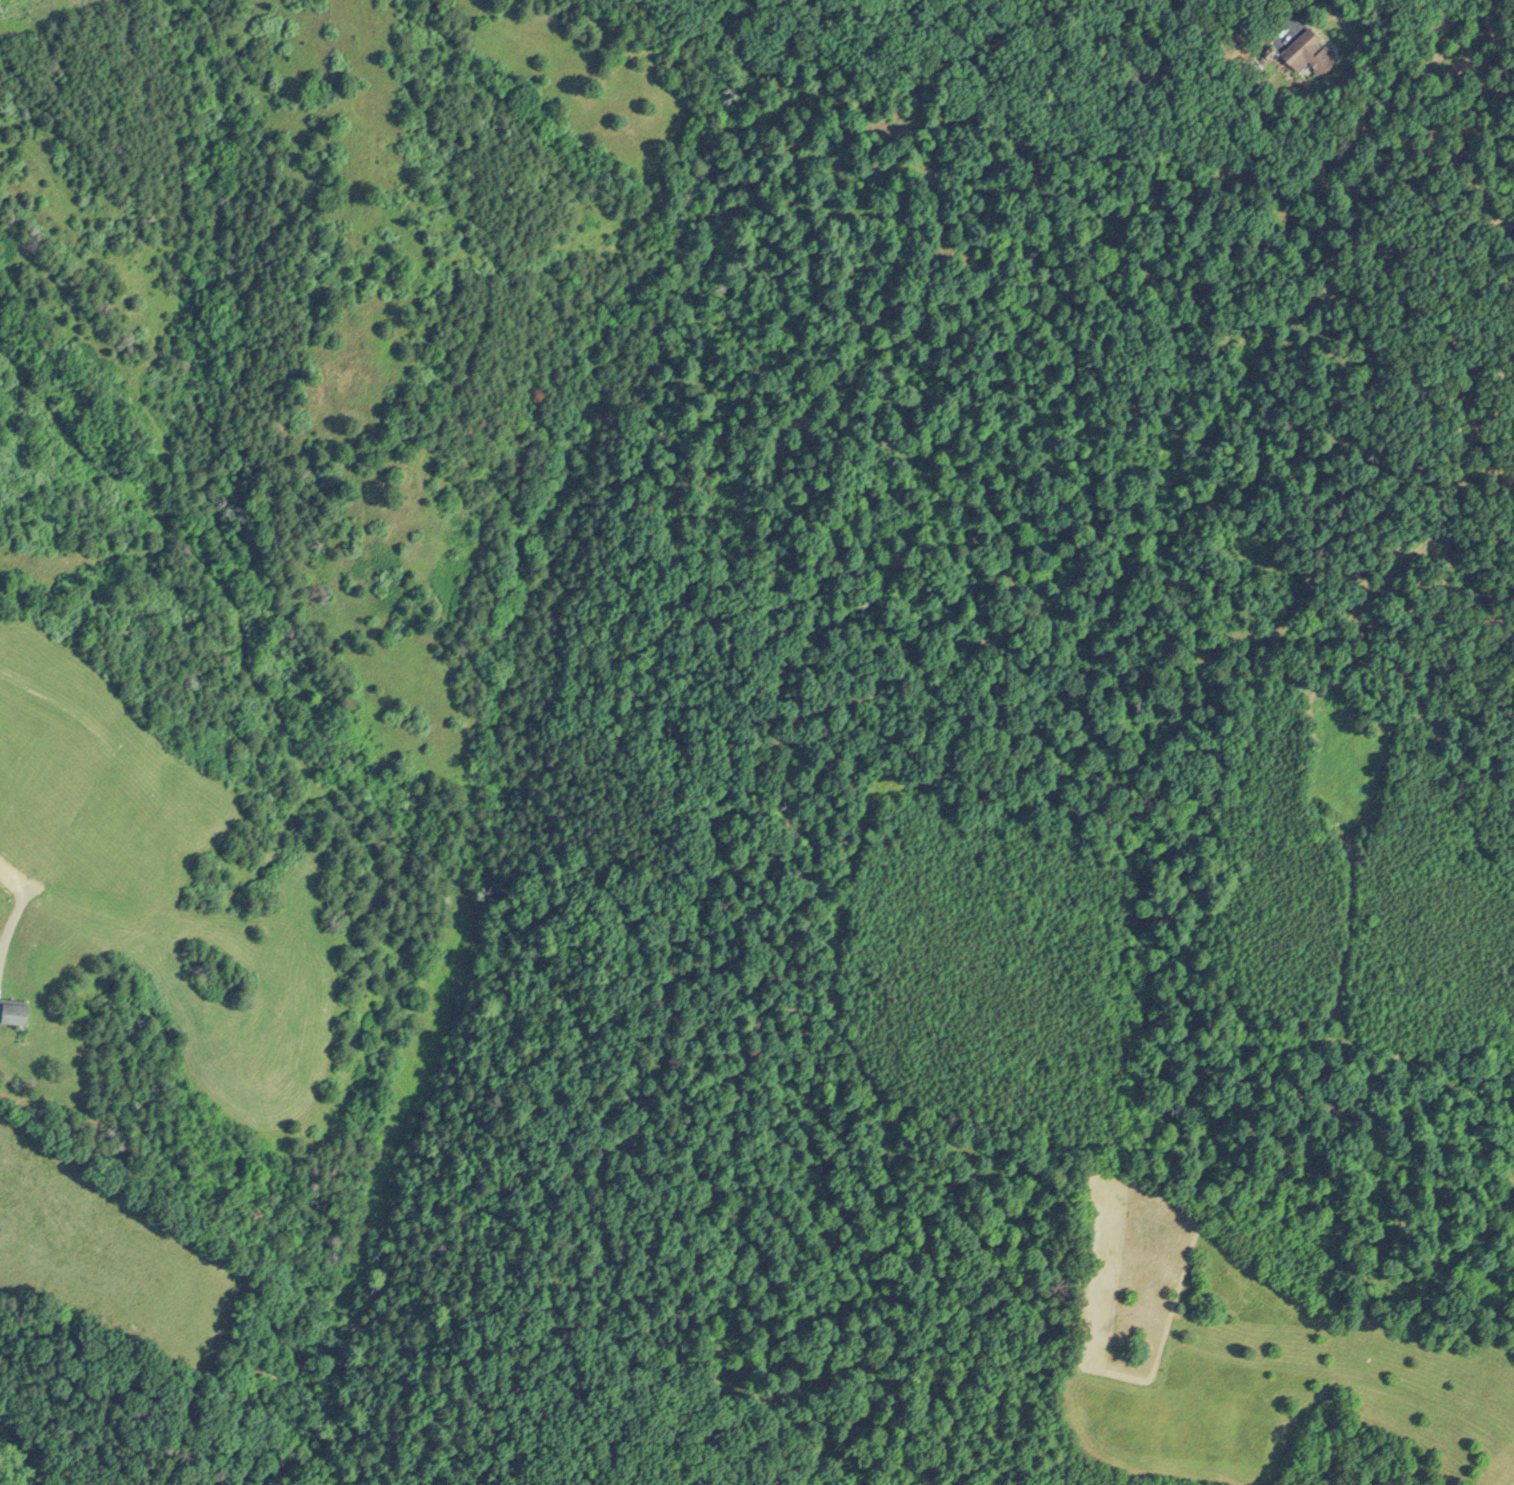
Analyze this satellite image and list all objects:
building: (1308, 55)
road: (7, 877)
building: (16, 1010)
crop: (101, 1237)

